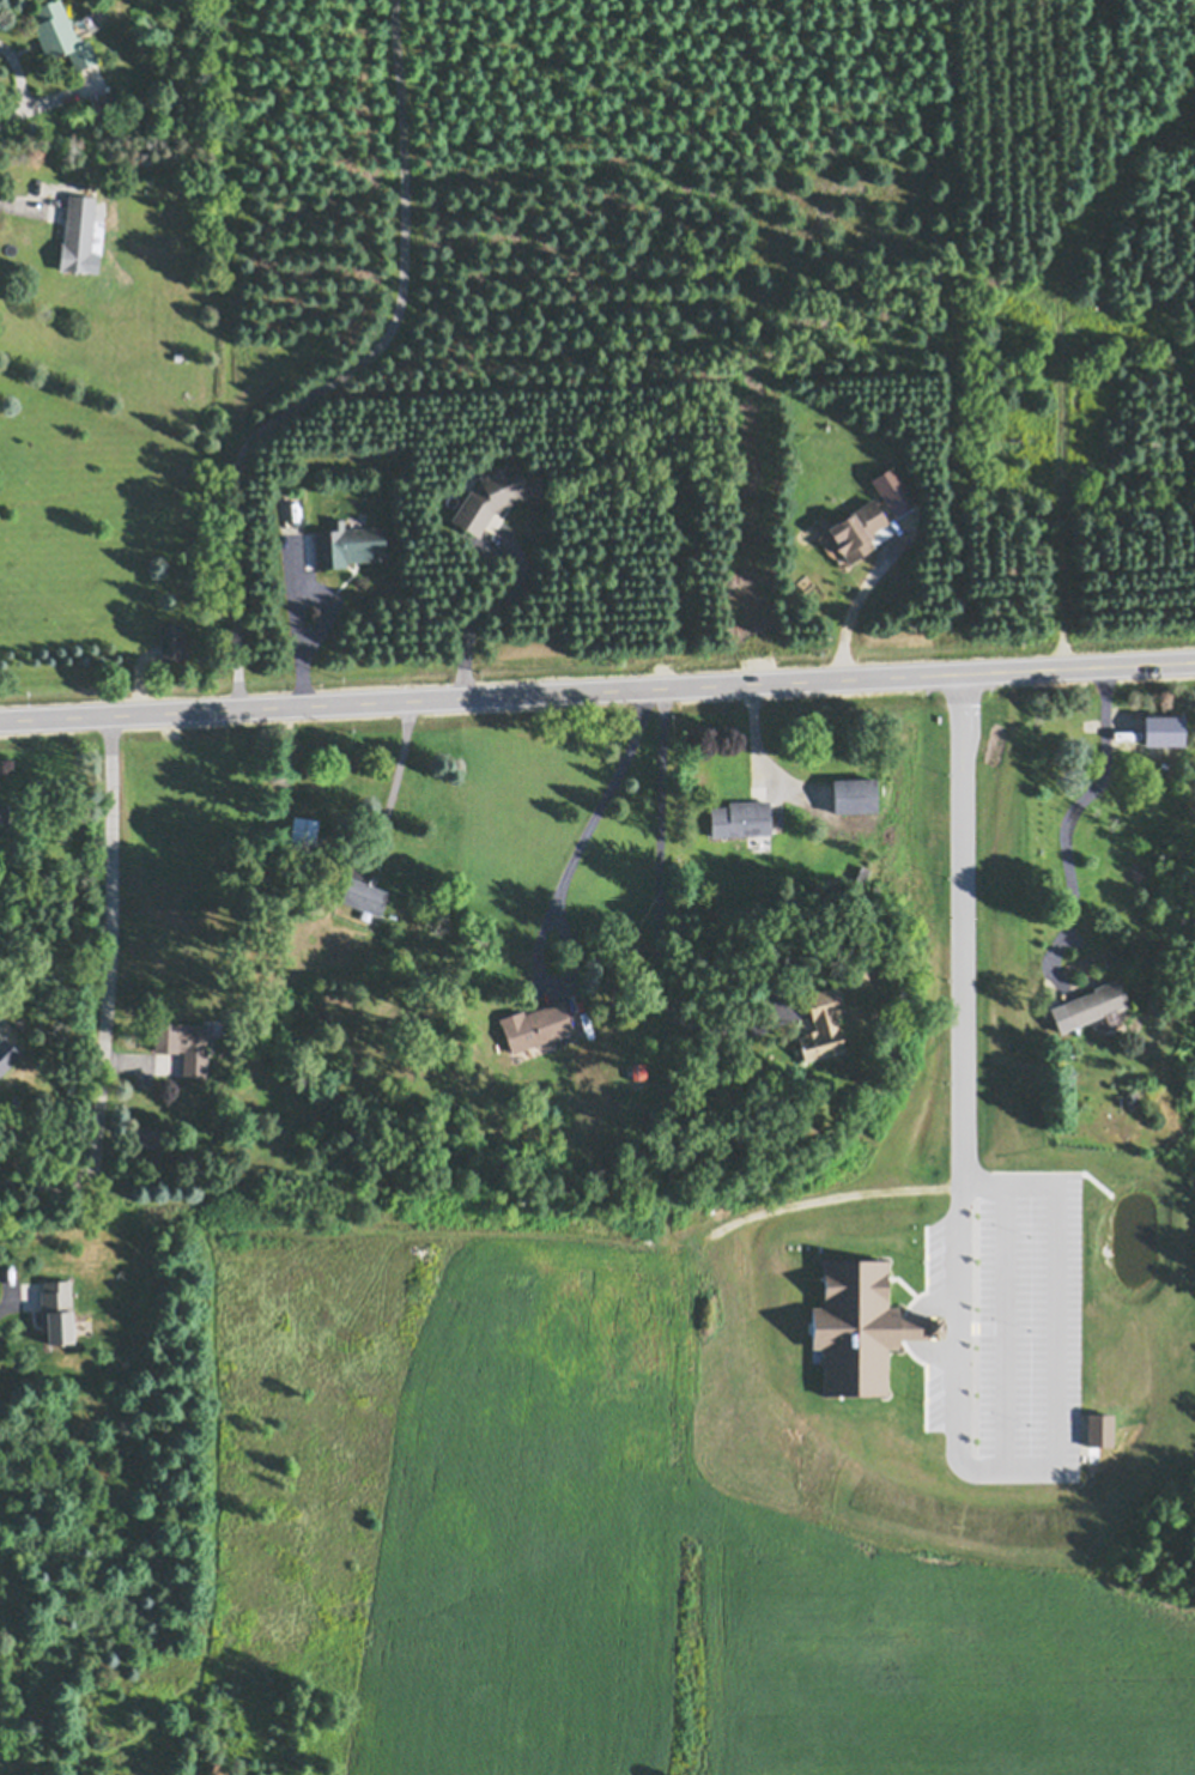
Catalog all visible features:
building: (61, 34)
building: (104, 104)
building: (78, 232)
road: (348, 371)
building: (495, 495)
building: (857, 529)
building: (348, 544)
road: (489, 612)
building: (172, 640)
road: (597, 693)
road: (765, 750)
road: (393, 783)
building: (774, 792)
building: (855, 794)
building: (742, 818)
road: (1075, 818)
building: (5, 820)
road: (600, 820)
building: (304, 832)
building: (863, 873)
building: (364, 897)
road: (669, 897)
building: (861, 975)
road: (116, 999)
building: (1096, 1004)
building: (823, 1025)
building: (538, 1026)
building: (186, 1046)
building: (7, 1055)
building: (638, 1066)
building: (146, 1137)
road: (1063, 1206)
road: (4, 1311)
building: (57, 1311)

